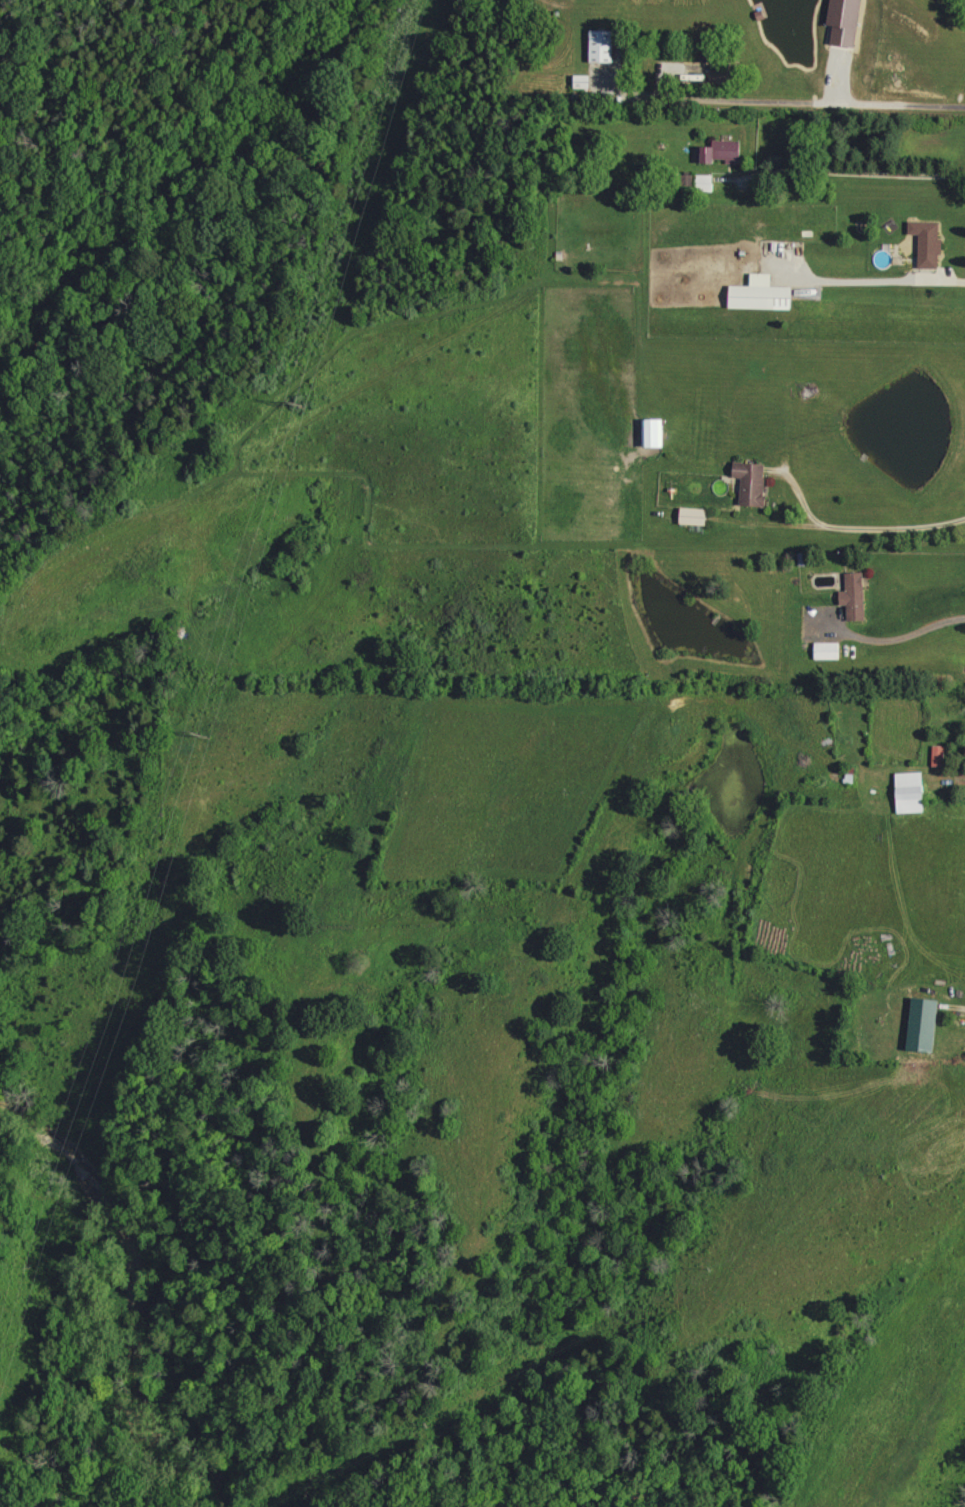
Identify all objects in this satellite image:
building: (845, 21)
building: (603, 45)
building: (583, 81)
road: (779, 103)
building: (722, 152)
road: (850, 170)
building: (706, 181)
building: (929, 242)
road: (876, 279)
building: (763, 294)
building: (654, 432)
building: (753, 482)
building: (695, 516)
road: (863, 524)
building: (856, 596)
road: (897, 634)
building: (828, 650)
building: (939, 755)
building: (911, 792)
building: (924, 1025)

